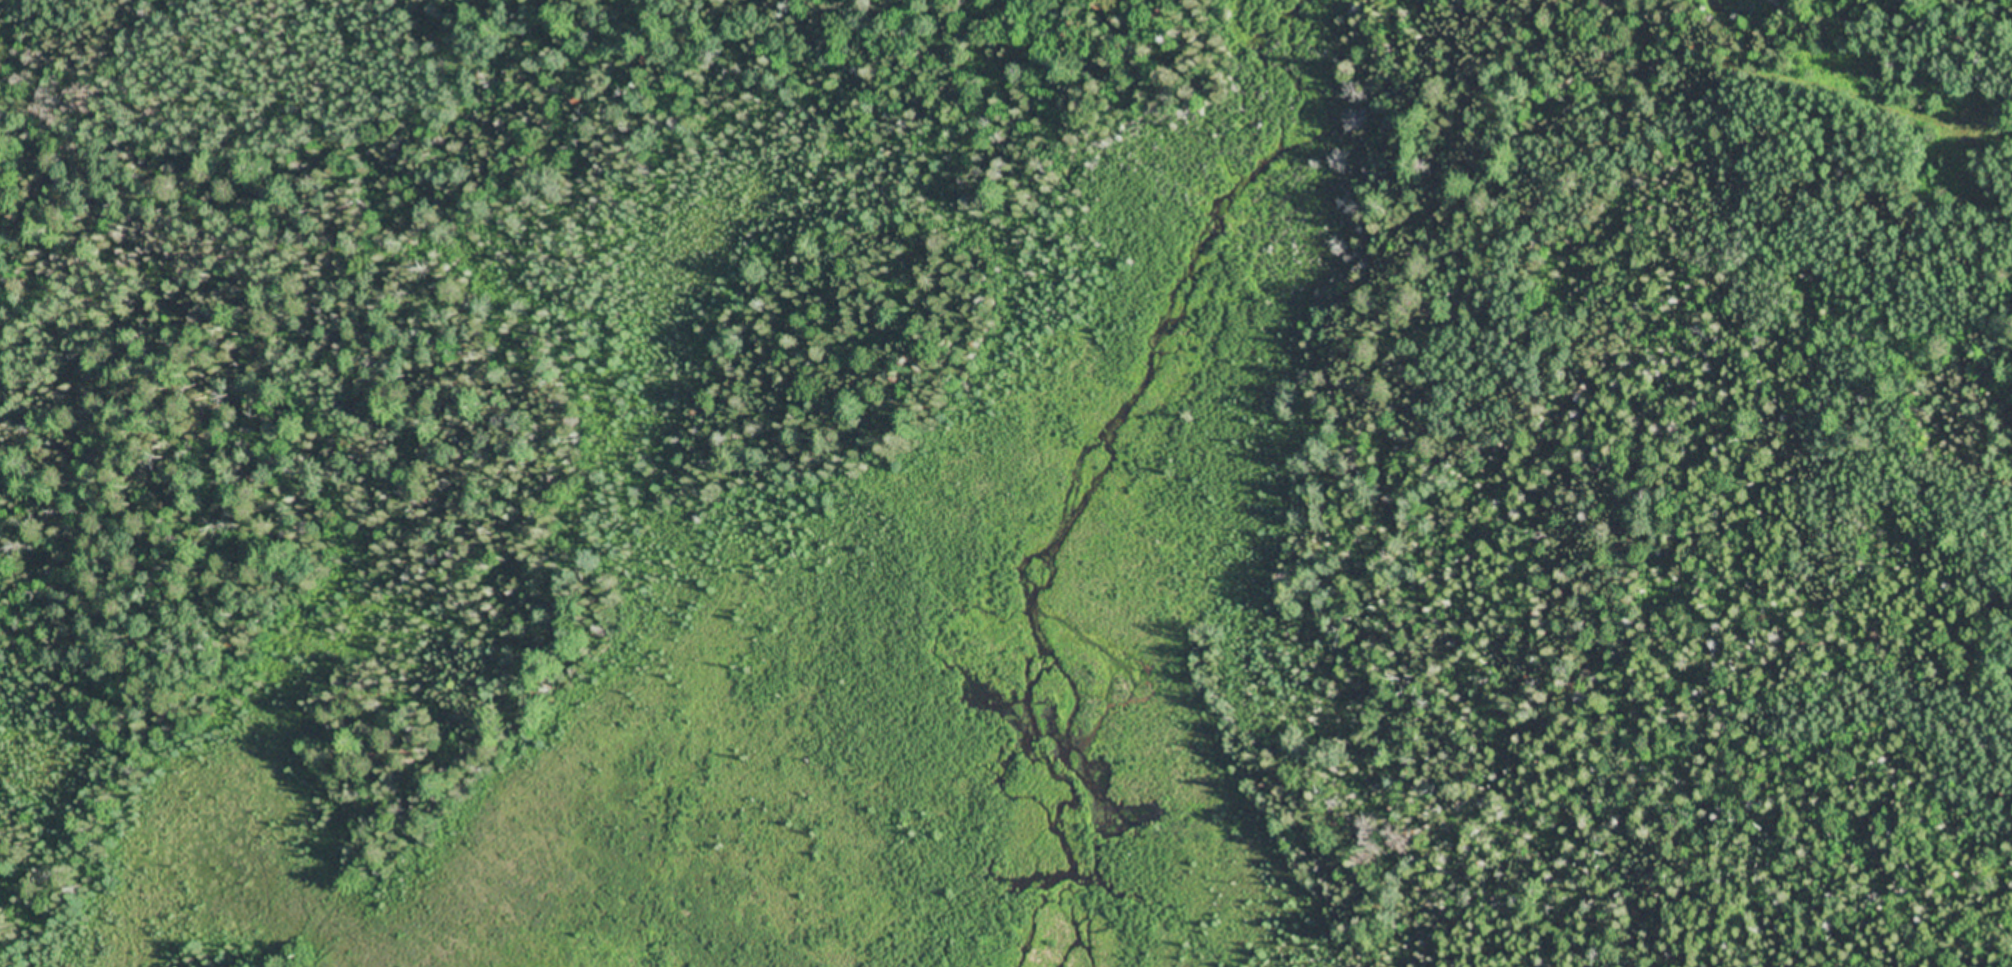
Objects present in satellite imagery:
road: (2008, 128)

